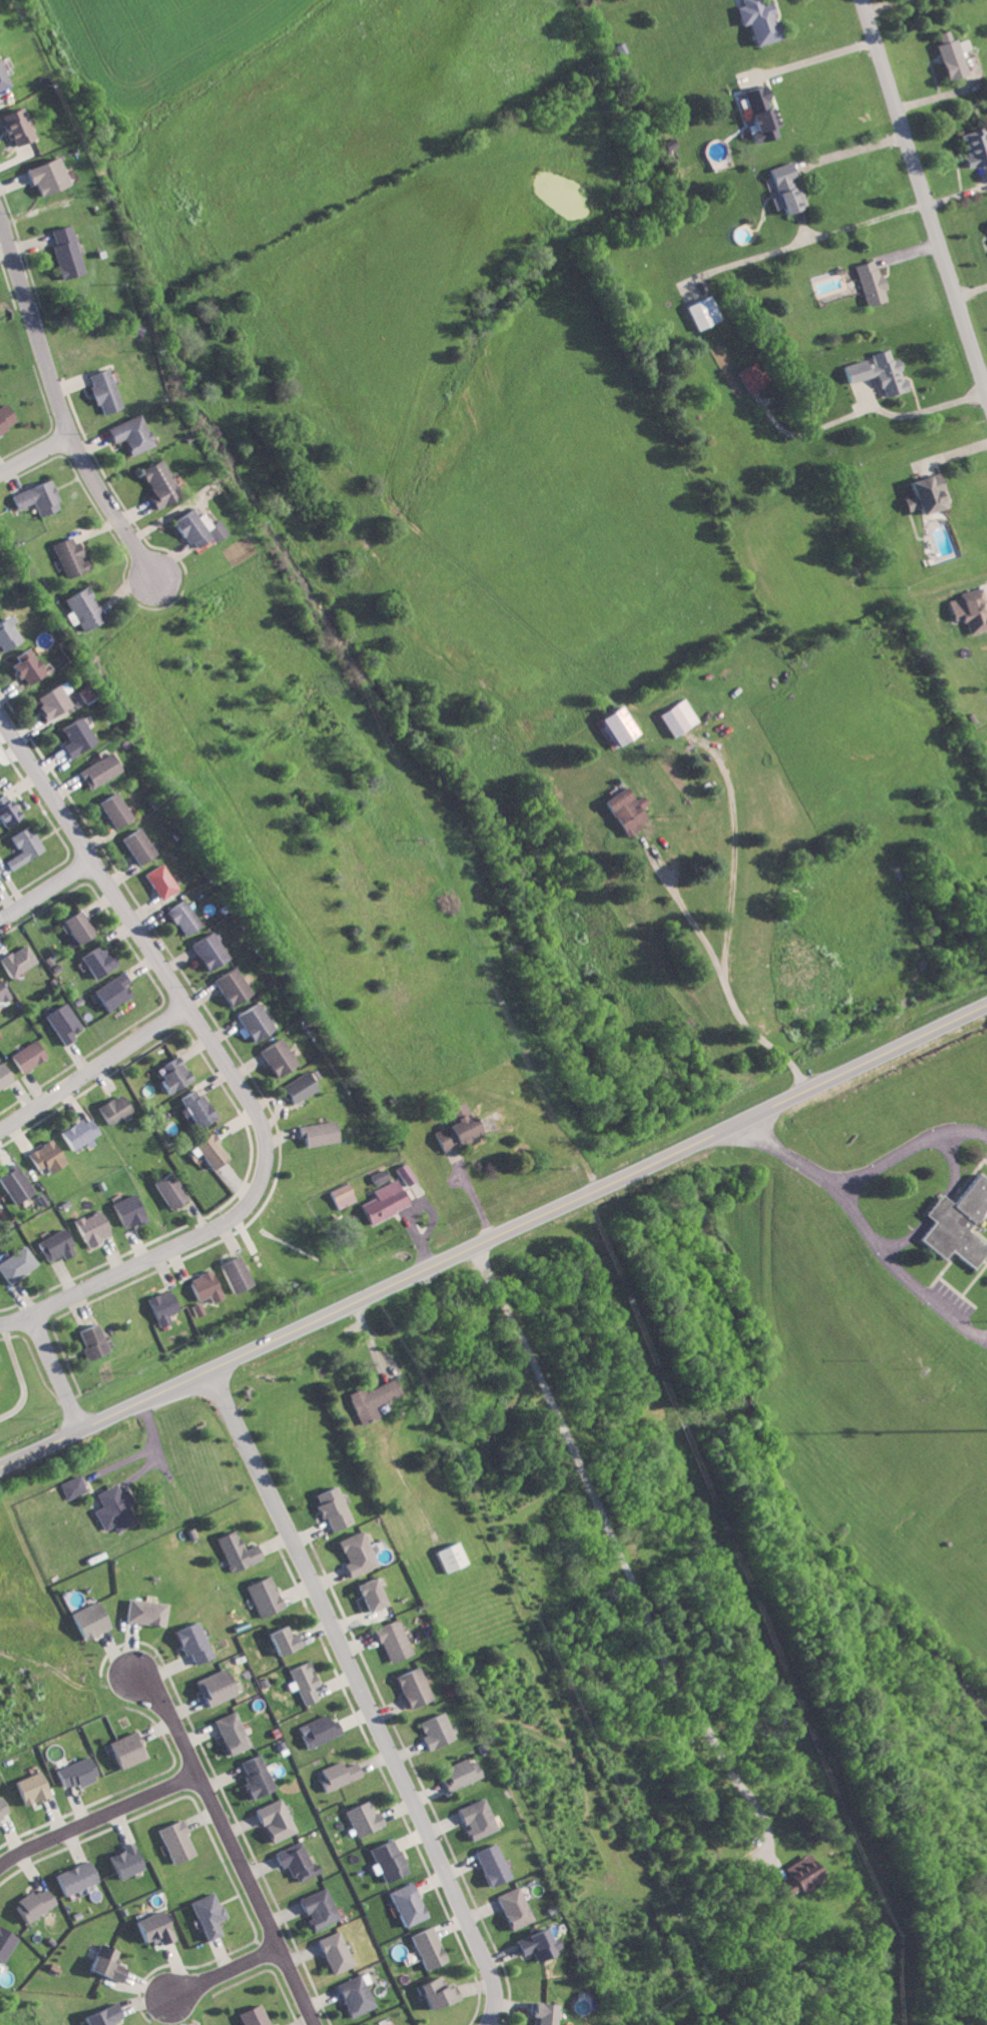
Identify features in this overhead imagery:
building: (757, 20)
building: (946, 55)
road: (810, 61)
building: (0, 84)
building: (759, 113)
building: (11, 127)
building: (972, 148)
building: (41, 177)
building: (783, 189)
road: (922, 198)
road: (810, 239)
building: (60, 251)
road: (528, 251)
building: (869, 282)
building: (702, 313)
road: (13, 314)
building: (877, 373)
building: (749, 378)
building: (99, 391)
road: (55, 399)
building: (3, 417)
building: (125, 435)
road: (608, 449)
road: (34, 455)
building: (153, 484)
building: (922, 495)
building: (33, 498)
building: (191, 528)
building: (65, 557)
building: (80, 607)
building: (969, 609)
road: (690, 621)
building: (5, 633)
road: (512, 639)
building: (20, 666)
building: (46, 699)
building: (677, 717)
building: (616, 724)
building: (70, 735)
building: (93, 770)
building: (110, 809)
building: (5, 810)
building: (626, 810)
road: (740, 835)
building: (133, 845)
building: (20, 846)
building: (156, 880)
road: (45, 887)
building: (179, 916)
building: (74, 925)
road: (834, 937)
building: (204, 949)
building: (14, 960)
building: (94, 961)
building: (227, 985)
building: (109, 991)
building: (0, 998)
building: (250, 1021)
building: (60, 1022)
building: (24, 1055)
building: (273, 1056)
road: (221, 1059)
road: (93, 1065)
building: (170, 1074)
building: (2, 1077)
building: (296, 1087)
building: (193, 1107)
building: (110, 1108)
building: (451, 1128)
building: (73, 1132)
building: (315, 1133)
road: (909, 1143)
building: (41, 1156)
road: (784, 1157)
building: (403, 1173)
building: (378, 1175)
building: (12, 1184)
building: (166, 1189)
building: (341, 1195)
building: (382, 1202)
building: (124, 1210)
building: (955, 1223)
building: (88, 1228)
road: (493, 1237)
building: (51, 1245)
building: (14, 1264)
road: (900, 1272)
building: (230, 1273)
building: (200, 1286)
building: (158, 1306)
road: (15, 1315)
building: (86, 1340)
road: (55, 1370)
building: (370, 1399)
building: (69, 1487)
building: (326, 1507)
building: (110, 1508)
road: (617, 1549)
building: (232, 1551)
building: (350, 1554)
building: (448, 1556)
building: (364, 1595)
building: (259, 1596)
building: (143, 1612)
building: (86, 1621)
building: (276, 1640)
building: (388, 1640)
building: (190, 1642)
building: (301, 1682)
building: (409, 1687)
building: (212, 1688)
road: (360, 1695)
building: (432, 1730)
building: (314, 1731)
building: (228, 1733)
building: (124, 1750)
building: (71, 1773)
building: (456, 1774)
building: (334, 1775)
building: (252, 1777)
building: (27, 1789)
building: (2, 1813)
road: (96, 1814)
building: (359, 1818)
building: (473, 1819)
building: (271, 1820)
building: (173, 1841)
road: (230, 1844)
building: (384, 1860)
building: (122, 1861)
building: (292, 1861)
building: (489, 1864)
building: (795, 1875)
building: (72, 1878)
building: (31, 1904)
building: (403, 1905)
building: (512, 1908)
building: (314, 1909)
building: (203, 1915)
building: (150, 1928)
building: (5, 1943)
building: (535, 1945)
building: (425, 1948)
building: (331, 1952)
building: (103, 1964)
road: (222, 1970)
building: (434, 1992)
building: (353, 1995)
building: (538, 2014)
building: (99, 2016)
building: (250, 2016)
building: (393, 2024)

